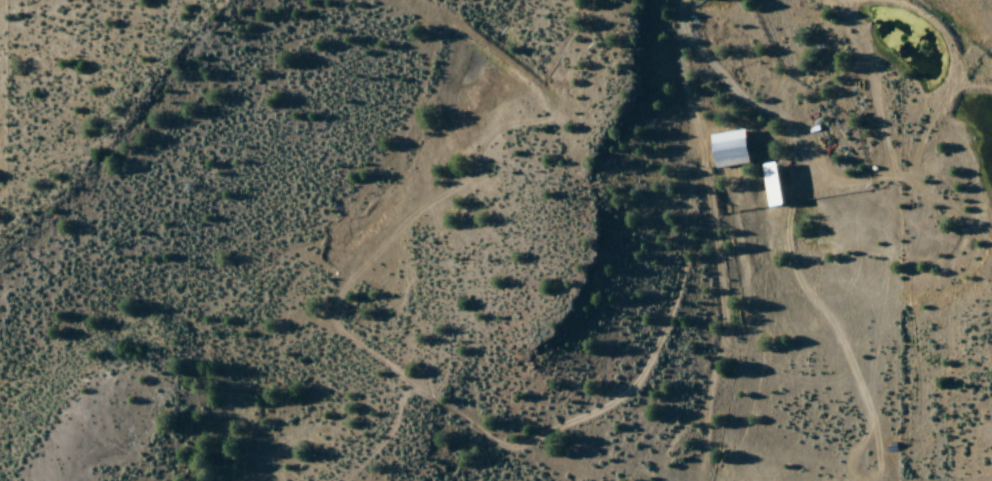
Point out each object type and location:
building: (728, 150)
building: (770, 185)

